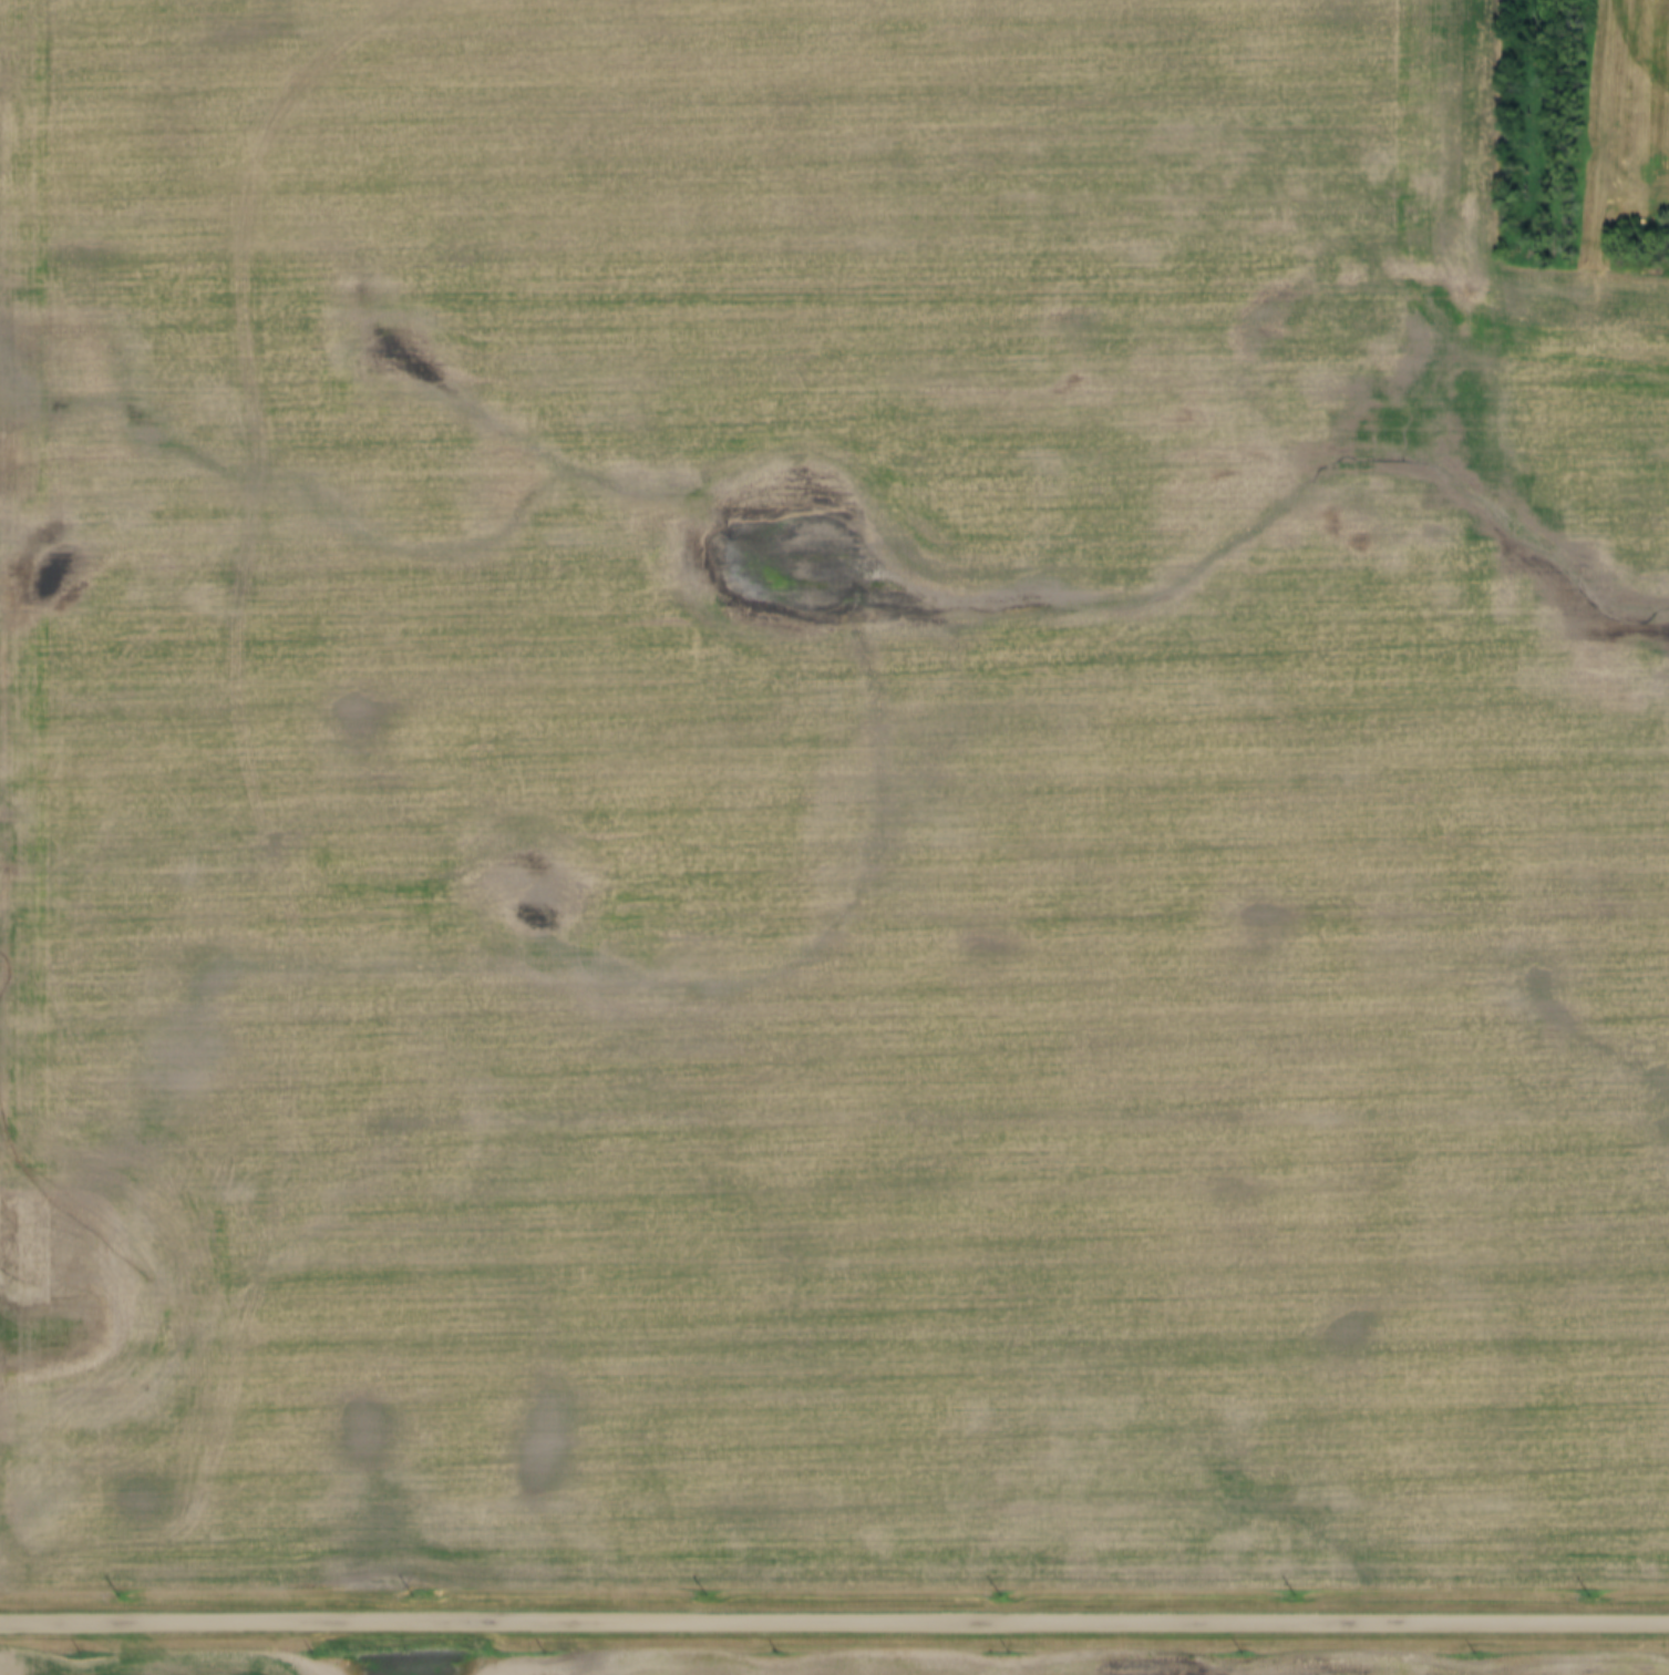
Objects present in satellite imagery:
road: (834, 1624)

